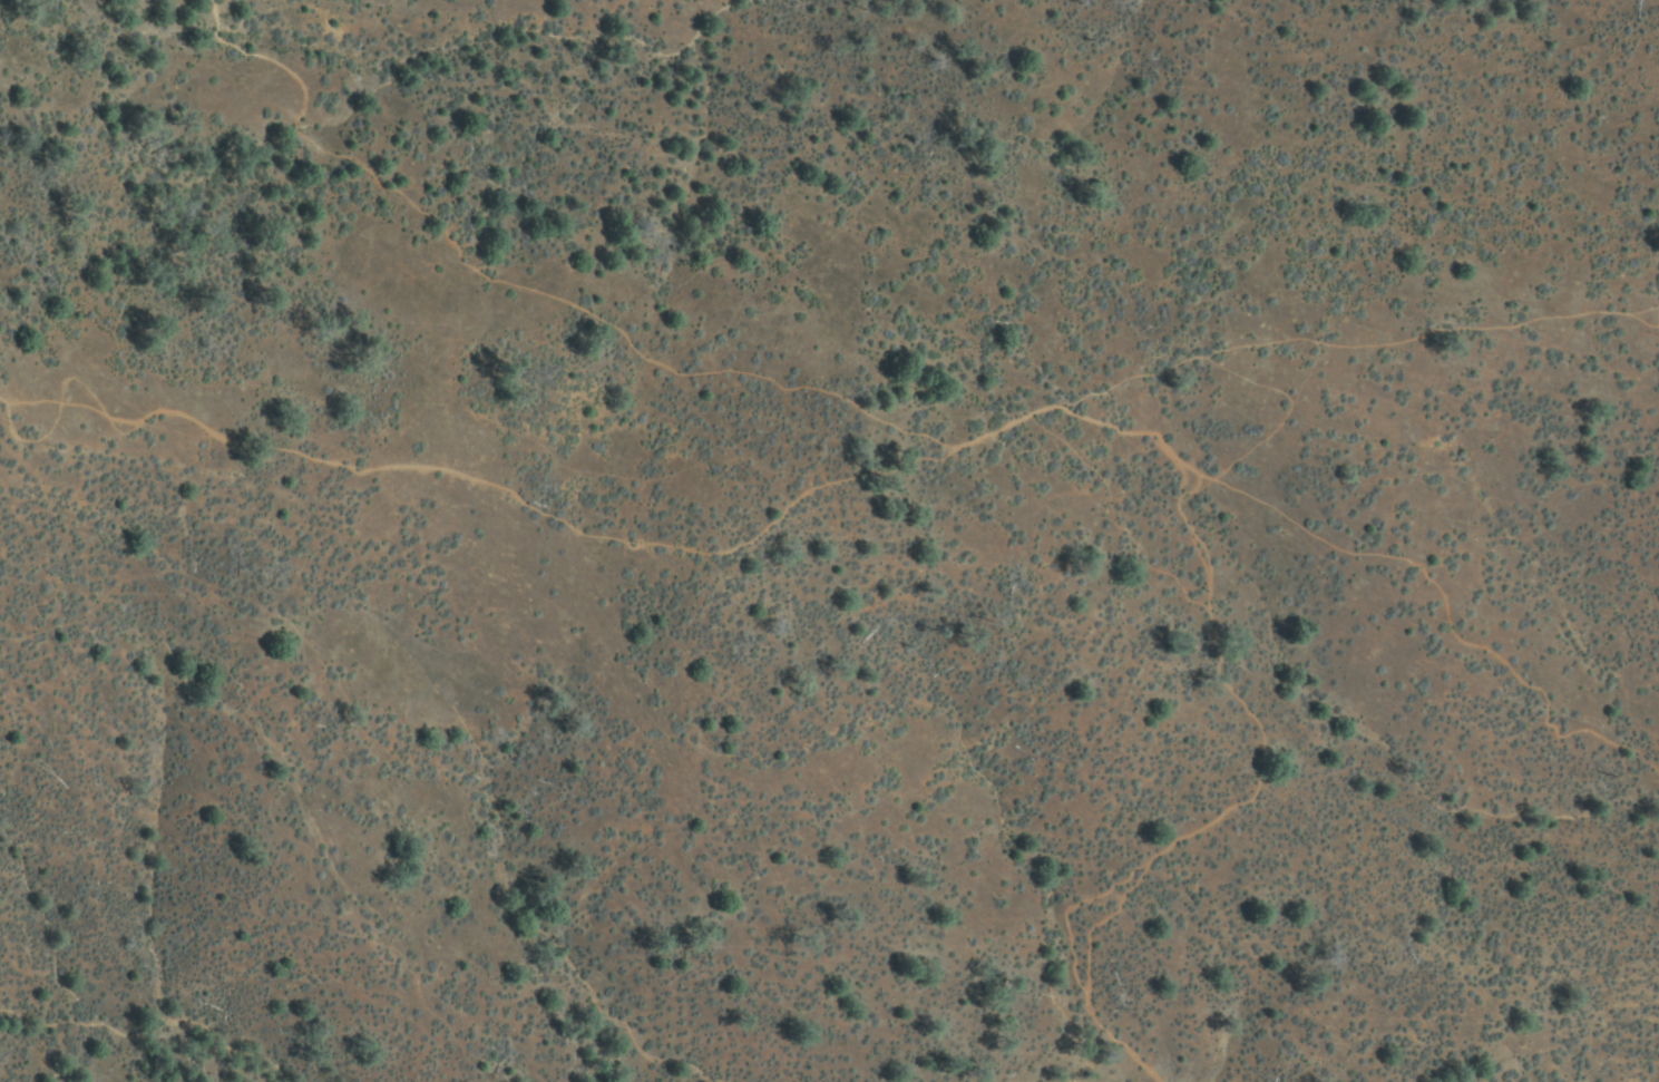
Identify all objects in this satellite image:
road: (915, 464)

